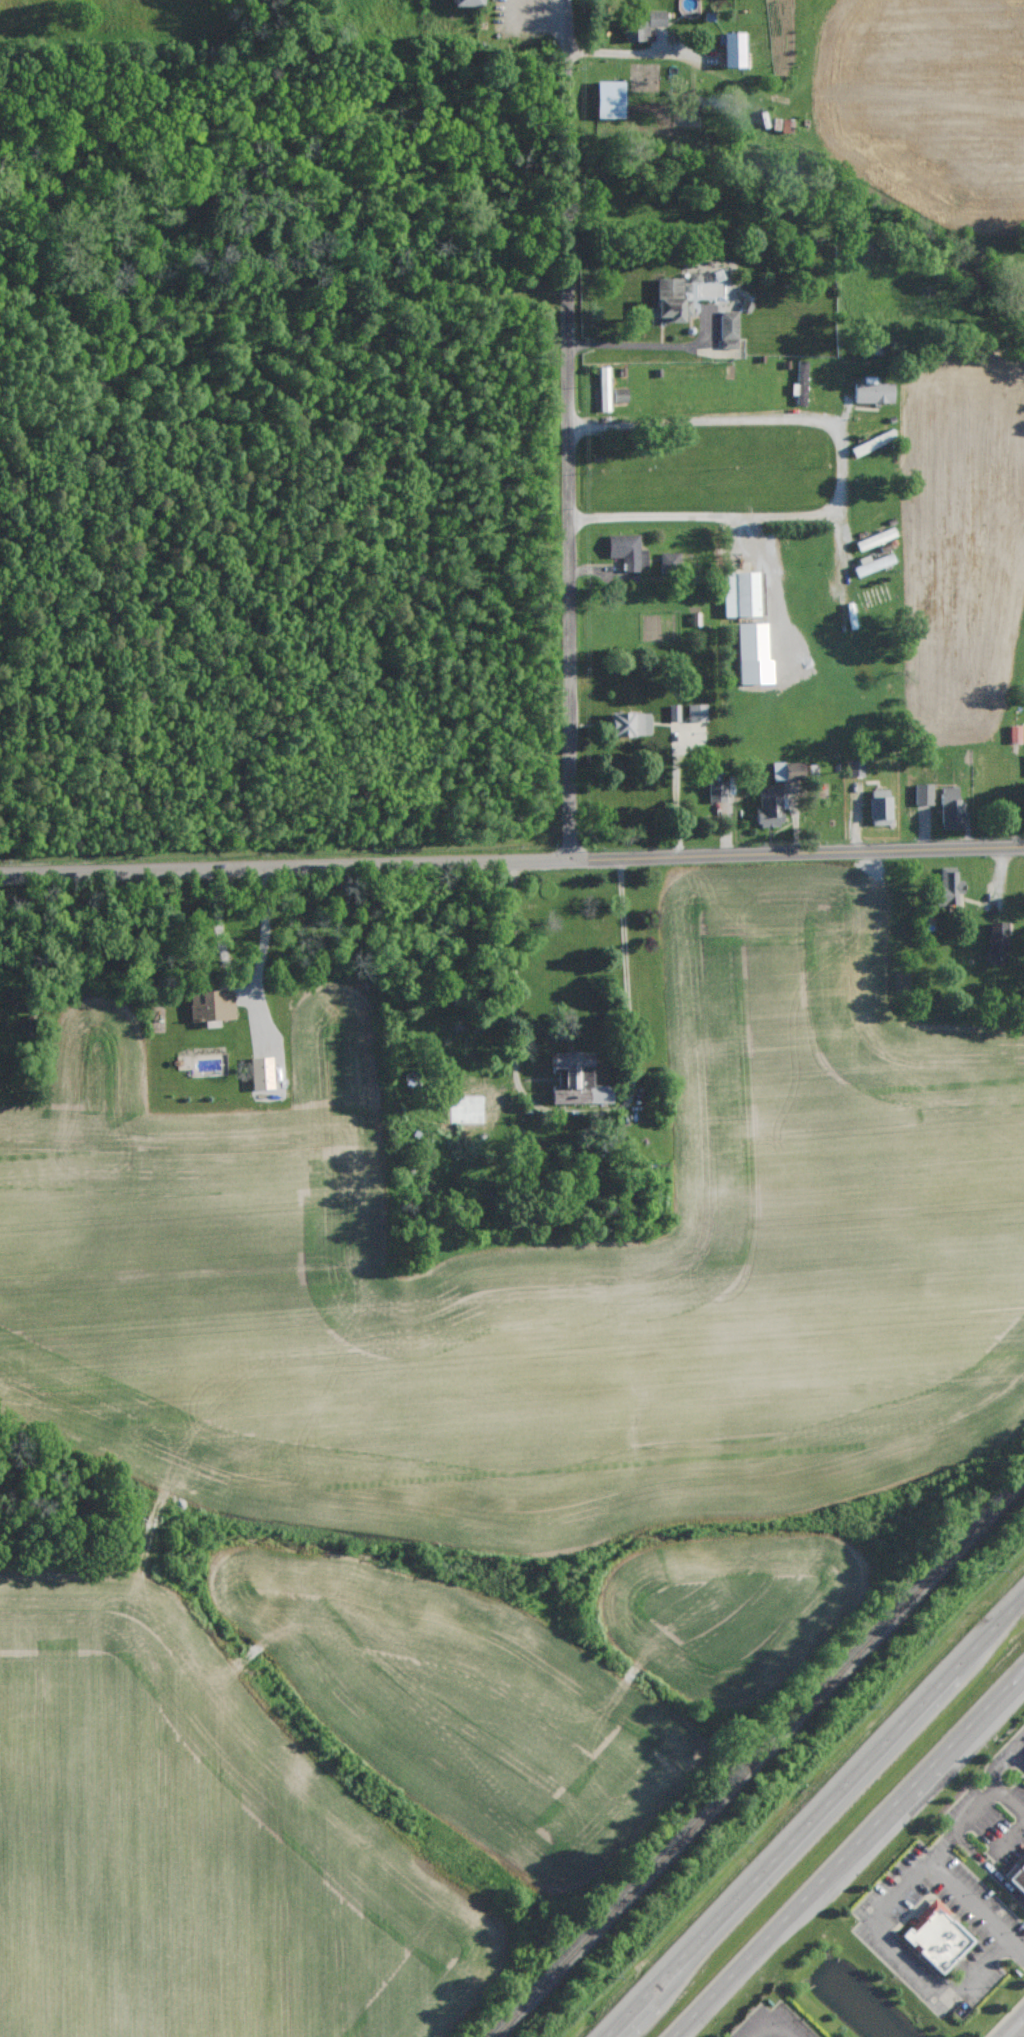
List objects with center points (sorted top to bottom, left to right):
building: (465, 2)
road: (529, 22)
building: (643, 23)
park: (275, 32)
building: (733, 49)
road: (632, 54)
building: (609, 99)
building: (670, 301)
building: (729, 329)
road: (648, 345)
building: (801, 383)
building: (605, 388)
building: (873, 391)
road: (749, 416)
road: (568, 430)
building: (871, 443)
road: (702, 517)
building: (871, 541)
building: (628, 552)
building: (670, 560)
building: (874, 564)
road: (771, 584)
building: (740, 594)
building: (753, 654)
building: (697, 712)
building: (674, 713)
building: (630, 724)
building: (1016, 733)
building: (857, 768)
building: (789, 770)
building: (717, 791)
building: (924, 794)
road: (676, 801)
building: (771, 807)
building: (881, 807)
building: (952, 808)
road: (512, 861)
building: (949, 887)
building: (998, 941)
road: (514, 984)
road: (627, 989)
road: (246, 993)
building: (212, 1007)
building: (262, 1073)
building: (577, 1080)
road: (1016, 1740)
road: (1016, 1756)
road: (1001, 1757)
railway: (762, 1761)
road: (1002, 1794)
road: (976, 1813)
road: (817, 1818)
road: (851, 1853)
building: (1017, 1878)
road: (967, 1897)
road: (874, 1918)
building: (936, 1936)
road: (773, 2026)
road: (1014, 2027)

